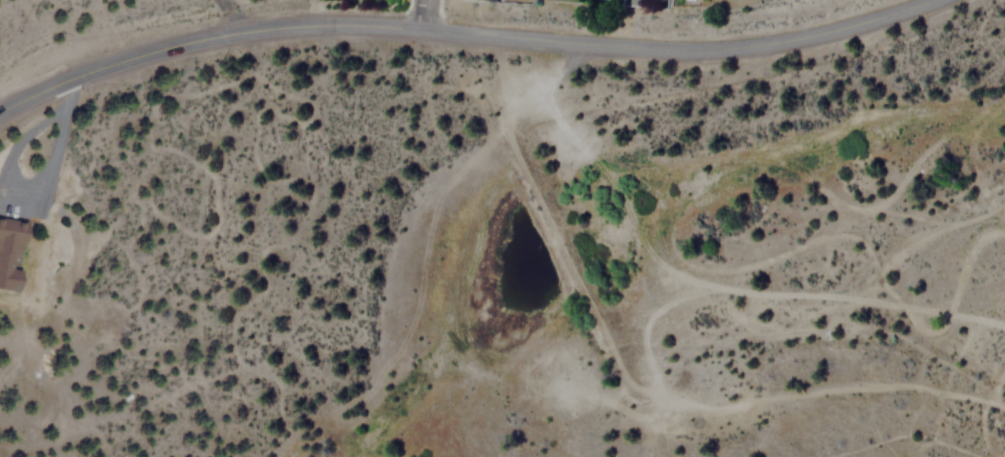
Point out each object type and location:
building: (632, 1)
road: (425, 15)
road: (230, 16)
road: (466, 33)
building: (4, 260)

